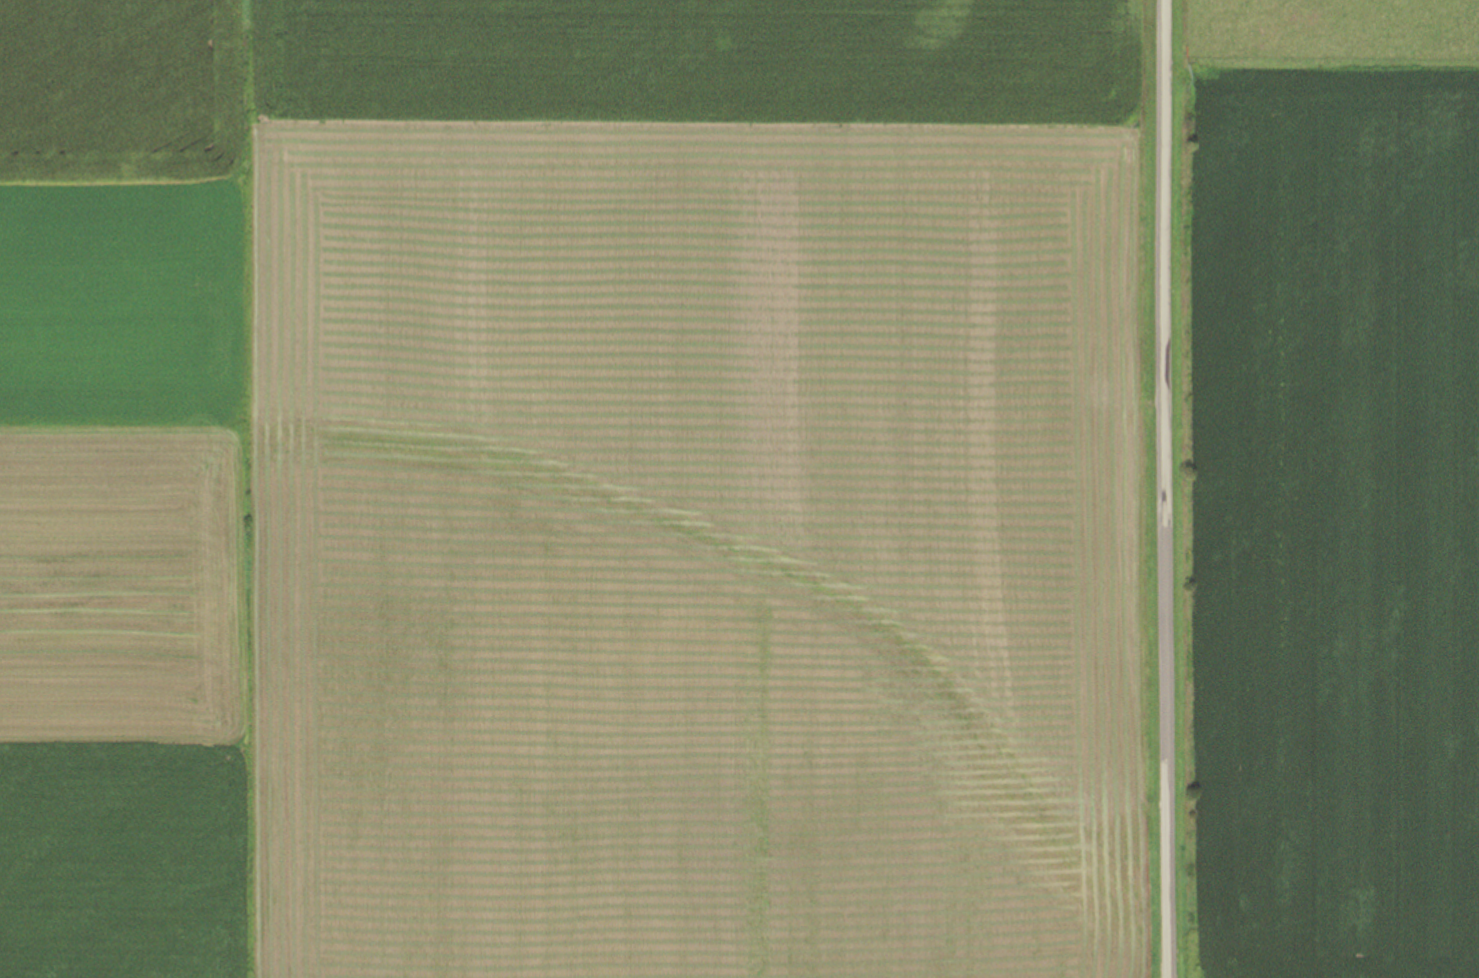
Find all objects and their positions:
road: (1163, 489)

